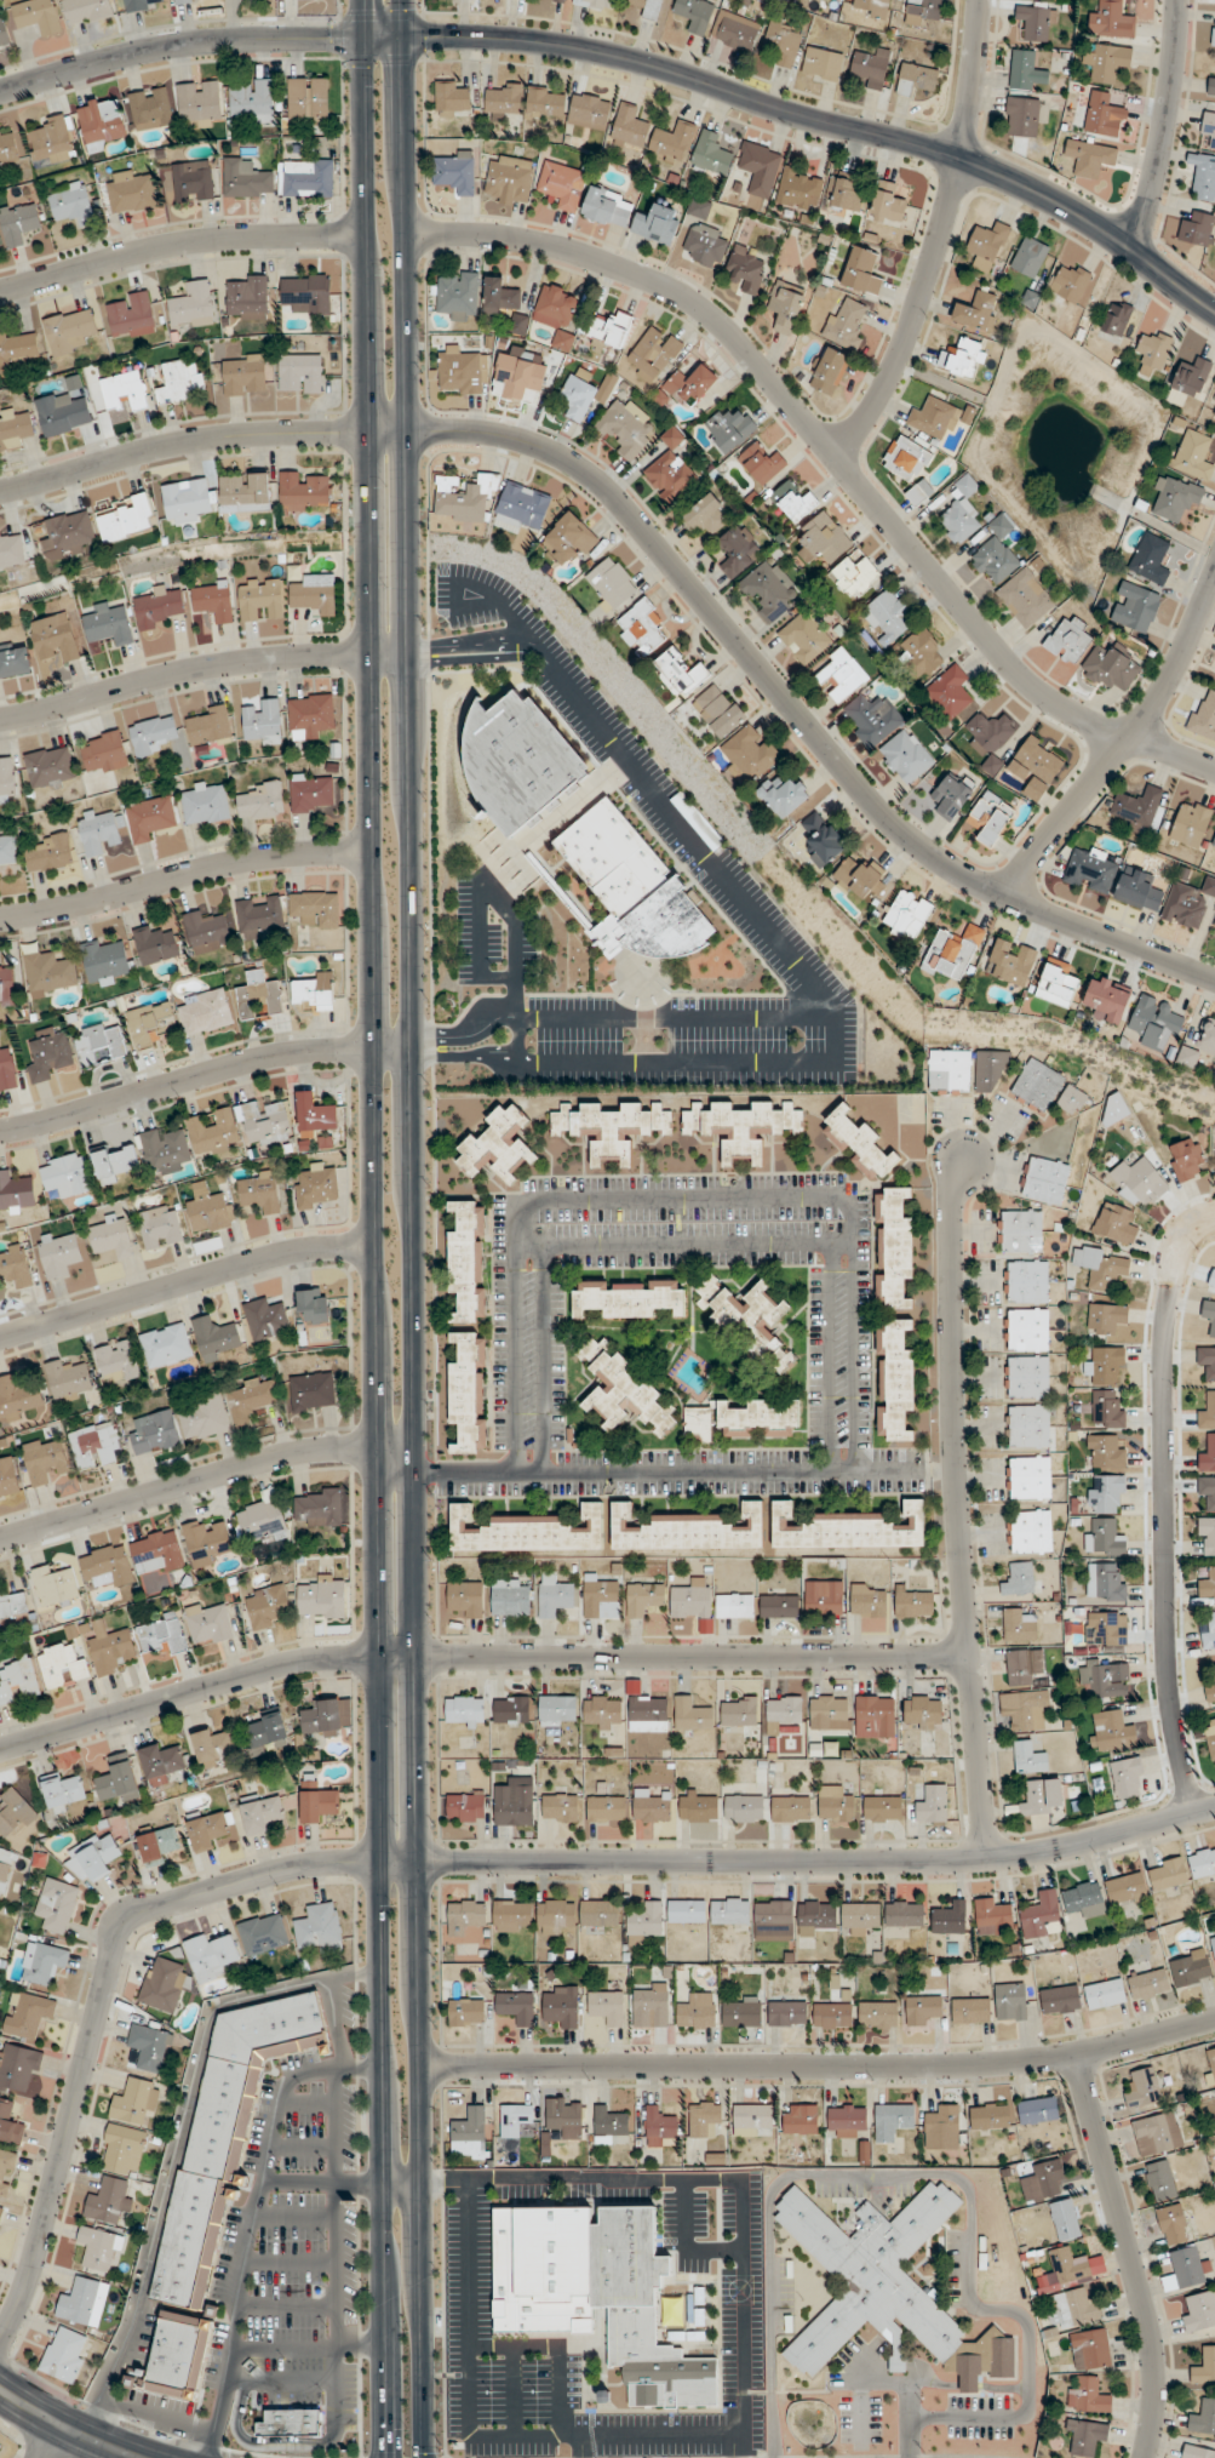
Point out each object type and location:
building: (184, 0)
building: (560, 0)
building: (598, 4)
building: (142, 5)
building: (648, 7)
building: (871, 7)
traffic signals: (361, 8)
building: (86, 10)
building: (922, 11)
building: (694, 15)
building: (38, 16)
road: (402, 17)
road: (361, 18)
building: (1113, 18)
building: (1037, 22)
building: (1214, 29)
building: (735, 30)
building: (4, 34)
road: (382, 36)
traffic signals: (431, 36)
traffic signals: (331, 38)
building: (783, 42)
road: (177, 45)
building: (823, 62)
building: (1107, 62)
building: (871, 65)
traffic signals: (403, 67)
building: (1026, 70)
building: (916, 78)
building: (1211, 85)
building: (308, 98)
building: (452, 98)
building: (252, 101)
building: (502, 101)
building: (200, 102)
building: (545, 103)
building: (150, 107)
building: (589, 110)
building: (1021, 116)
building: (1105, 119)
building: (102, 121)
road: (827, 122)
road: (1163, 125)
building: (1209, 126)
building: (630, 127)
building: (52, 138)
building: (672, 141)
building: (8, 147)
building: (711, 153)
building: (1090, 156)
building: (758, 167)
building: (455, 171)
building: (1204, 175)
building: (306, 177)
building: (246, 178)
building: (509, 179)
building: (193, 181)
building: (562, 184)
building: (800, 188)
building: (131, 190)
building: (847, 195)
building: (71, 204)
building: (887, 205)
building: (608, 206)
building: (699, 207)
building: (18, 222)
building: (658, 223)
building: (1198, 228)
road: (940, 239)
road: (178, 244)
building: (705, 244)
building: (987, 244)
building: (1030, 256)
building: (746, 268)
building: (861, 270)
building: (1071, 282)
building: (306, 292)
building: (458, 293)
building: (246, 296)
building: (504, 302)
building: (193, 304)
building: (785, 305)
building: (976, 310)
building: (556, 313)
building: (130, 314)
building: (1117, 319)
building: (846, 324)
building: (609, 327)
building: (69, 331)
building: (17, 348)
building: (1153, 350)
building: (653, 353)
building: (962, 358)
building: (830, 370)
building: (460, 371)
building: (300, 372)
building: (246, 373)
building: (518, 377)
building: (1192, 377)
building: (180, 381)
building: (688, 385)
building: (125, 389)
building: (584, 393)
building: (1213, 406)
building: (62, 413)
building: (939, 416)
building: (13, 428)
building: (625, 428)
building: (729, 428)
building: (1193, 453)
road: (832, 455)
building: (906, 458)
building: (762, 462)
building: (670, 468)
building: (245, 491)
building: (303, 491)
building: (918, 492)
building: (1175, 497)
building: (463, 498)
building: (792, 499)
building: (187, 501)
building: (523, 505)
building: (961, 510)
building: (707, 513)
building: (128, 519)
building: (68, 535)
building: (569, 538)
building: (824, 538)
building: (11, 549)
building: (738, 549)
road: (663, 553)
building: (996, 553)
building: (1151, 559)
building: (854, 573)
building: (611, 583)
building: (769, 590)
building: (315, 593)
building: (1025, 596)
building: (259, 598)
building: (212, 599)
building: (159, 606)
building: (1135, 606)
building: (887, 614)
building: (109, 624)
building: (642, 627)
building: (55, 636)
building: (804, 636)
building: (1068, 639)
building: (922, 651)
road: (533, 653)
building: (15, 659)
building: (1111, 667)
road: (201, 668)
building: (680, 671)
building: (839, 674)
building: (950, 691)
building: (720, 709)
building: (313, 715)
building: (1204, 715)
building: (872, 718)
building: (262, 720)
building: (208, 725)
building: (153, 734)
building: (990, 737)
road: (1121, 744)
building: (751, 751)
building: (104, 753)
building: (511, 754)
building: (906, 755)
building: (50, 766)
building: (1036, 766)
building: (7, 781)
building: (311, 791)
building: (785, 794)
building: (953, 794)
building: (263, 801)
building: (205, 802)
building: (1139, 805)
building: (149, 817)
building: (990, 818)
building: (1191, 823)
building: (99, 830)
building: (821, 836)
building: (1214, 841)
building: (8, 851)
building: (50, 852)
building: (1091, 869)
road: (182, 874)
building: (859, 875)
building: (625, 882)
building: (1139, 888)
building: (1187, 902)
building: (315, 908)
building: (906, 915)
building: (259, 916)
building: (1214, 924)
building: (207, 931)
building: (155, 944)
road: (774, 948)
building: (953, 951)
building: (105, 960)
building: (1010, 962)
building: (48, 971)
building: (1058, 981)
building: (6, 984)
building: (315, 993)
building: (258, 994)
building: (1107, 998)
building: (205, 1011)
building: (1156, 1021)
building: (151, 1024)
road: (518, 1031)
building: (101, 1044)
building: (1200, 1045)
building: (50, 1053)
building: (7, 1068)
building: (948, 1070)
building: (990, 1070)
road: (204, 1074)
building: (1037, 1085)
building: (1072, 1099)
building: (1113, 1109)
building: (315, 1114)
building: (267, 1121)
building: (743, 1126)
building: (611, 1127)
building: (213, 1131)
building: (859, 1143)
building: (498, 1145)
building: (165, 1149)
building: (1186, 1159)
building: (116, 1161)
building: (67, 1173)
building: (1044, 1179)
building: (1140, 1182)
building: (316, 1185)
building: (16, 1191)
building: (258, 1191)
road: (681, 1194)
building: (208, 1208)
building: (1116, 1223)
building: (160, 1227)
building: (1020, 1230)
building: (111, 1237)
road: (680, 1241)
road: (412, 1246)
road: (371, 1247)
building: (894, 1248)
building: (59, 1253)
building: (468, 1261)
building: (15, 1265)
building: (1101, 1267)
building: (1213, 1279)
road: (183, 1281)
building: (1026, 1281)
building: (629, 1297)
building: (314, 1305)
building: (1209, 1315)
building: (1106, 1317)
building: (265, 1319)
building: (750, 1321)
building: (1026, 1330)
building: (216, 1337)
building: (166, 1344)
road: (825, 1355)
road: (539, 1356)
building: (1207, 1360)
building: (118, 1362)
building: (1105, 1366)
building: (1026, 1377)
building: (68, 1378)
building: (895, 1379)
building: (313, 1390)
building: (623, 1390)
building: (469, 1391)
building: (18, 1397)
building: (251, 1397)
building: (1107, 1410)
building: (1207, 1412)
building: (204, 1416)
building: (758, 1418)
building: (699, 1423)
building: (1027, 1425)
building: (155, 1433)
building: (96, 1445)
building: (1106, 1451)
building: (1208, 1454)
building: (46, 1460)
road: (680, 1469)
building: (8, 1476)
road: (205, 1476)
building: (1028, 1476)
building: (1207, 1490)
building: (1108, 1493)
road: (950, 1503)
road: (1165, 1507)
building: (317, 1509)
building: (263, 1517)
building: (848, 1528)
building: (688, 1530)
building: (527, 1531)
building: (1030, 1531)
building: (1207, 1536)
building: (1104, 1537)
building: (207, 1542)
building: (156, 1551)
building: (107, 1566)
building: (1019, 1578)
building: (1105, 1582)
building: (1208, 1584)
building: (55, 1585)
building: (554, 1595)
building: (322, 1597)
building: (466, 1597)
building: (511, 1597)
building: (600, 1597)
building: (643, 1597)
building: (823, 1597)
building: (692, 1599)
building: (867, 1600)
building: (912, 1604)
building: (265, 1605)
building: (734, 1605)
building: (13, 1606)
building: (779, 1606)
building: (210, 1622)
building: (1018, 1624)
building: (1106, 1628)
building: (162, 1634)
building: (1209, 1634)
building: (109, 1646)
road: (474, 1656)
building: (62, 1665)
building: (1022, 1665)
building: (1106, 1677)
building: (18, 1680)
building: (1210, 1687)
building: (512, 1709)
building: (1026, 1709)
building: (465, 1710)
building: (557, 1710)
building: (739, 1710)
building: (784, 1710)
building: (602, 1711)
building: (829, 1711)
building: (922, 1711)
building: (647, 1713)
building: (692, 1715)
building: (327, 1716)
building: (875, 1716)
building: (265, 1731)
building: (1111, 1731)
building: (1210, 1737)
building: (212, 1745)
building: (1030, 1756)
building: (161, 1762)
building: (1127, 1777)
building: (119, 1779)
building: (64, 1790)
building: (1043, 1796)
building: (317, 1802)
building: (514, 1802)
building: (932, 1804)
building: (836, 1805)
building: (465, 1806)
building: (649, 1806)
building: (698, 1806)
building: (560, 1807)
building: (606, 1808)
building: (744, 1808)
building: (791, 1808)
building: (882, 1808)
building: (260, 1813)
building: (17, 1818)
building: (207, 1830)
building: (157, 1845)
building: (92, 1857)
road: (448, 1860)
building: (1202, 1863)
building: (5, 1868)
building: (1168, 1874)
building: (1127, 1887)
building: (1084, 1898)
building: (57, 1904)
building: (687, 1910)
building: (729, 1910)
building: (600, 1913)
building: (904, 1913)
building: (816, 1914)
building: (511, 1915)
building: (555, 1915)
building: (1042, 1915)
building: (992, 1916)
building: (859, 1917)
building: (948, 1917)
building: (773, 1920)
building: (466, 1921)
building: (646, 1921)
building: (320, 1927)
building: (263, 1933)
building: (1213, 1943)
building: (211, 1956)
building: (44, 1962)
building: (1191, 1968)
building: (164, 1983)
building: (1148, 1984)
building: (1105, 1994)
building: (1060, 2000)
building: (1010, 2001)
building: (516, 2006)
building: (561, 2006)
building: (652, 2006)
building: (607, 2007)
building: (922, 2010)
building: (970, 2010)
building: (466, 2011)
building: (741, 2011)
building: (697, 2012)
building: (27, 2013)
building: (787, 2013)
building: (877, 2014)
building: (832, 2016)
road: (332, 2027)
building: (149, 2047)
building: (1211, 2063)
road: (820, 2065)
building: (17, 2068)
building: (1142, 2088)
building: (134, 2102)
road: (305, 2105)
building: (1038, 2110)
building: (566, 2116)
building: (990, 2116)
building: (704, 2117)
building: (752, 2119)
building: (800, 2119)
building: (846, 2119)
building: (893, 2120)
building: (942, 2120)
building: (515, 2121)
building: (10, 2123)
building: (609, 2126)
building: (659, 2127)
building: (469, 2133)
building: (1157, 2133)
building: (225, 2136)
road: (300, 2147)
building: (122, 2149)
building: (6, 2173)
road: (941, 2174)
road: (168, 2178)
road: (297, 2180)
building: (1043, 2180)
building: (1160, 2180)
road: (357, 2185)
road: (401, 2185)
road: (445, 2185)
building: (109, 2200)
building: (0, 2211)
road: (293, 2216)
road: (252, 2219)
building: (1065, 2219)
building: (1173, 2224)
road: (683, 2243)
building: (101, 2248)
road: (333, 2248)
road: (1130, 2253)
road: (288, 2262)
building: (1065, 2269)
building: (1186, 2269)
building: (887, 2290)
building: (597, 2294)
building: (700, 2296)
building: (84, 2302)
road: (283, 2306)
building: (1076, 2308)
building: (1199, 2310)
building: (700, 2316)
building: (676, 2334)
building: (697, 2336)
road: (558, 2344)
road: (281, 2349)
road: (357, 2349)
building: (1091, 2349)
building: (64, 2354)
building: (179, 2355)
building: (1205, 2367)
road: (279, 2383)
road: (511, 2389)
building: (1089, 2395)
building: (1203, 2417)
road: (97, 2419)
building: (290, 2423)
road: (65, 2425)
road: (469, 2434)
building: (1087, 2436)
road: (51, 2441)
road: (263, 2442)
building: (0, 2446)
road: (580, 2446)
road: (739, 2446)
traffic signals: (382, 2451)
building: (1198, 2452)

